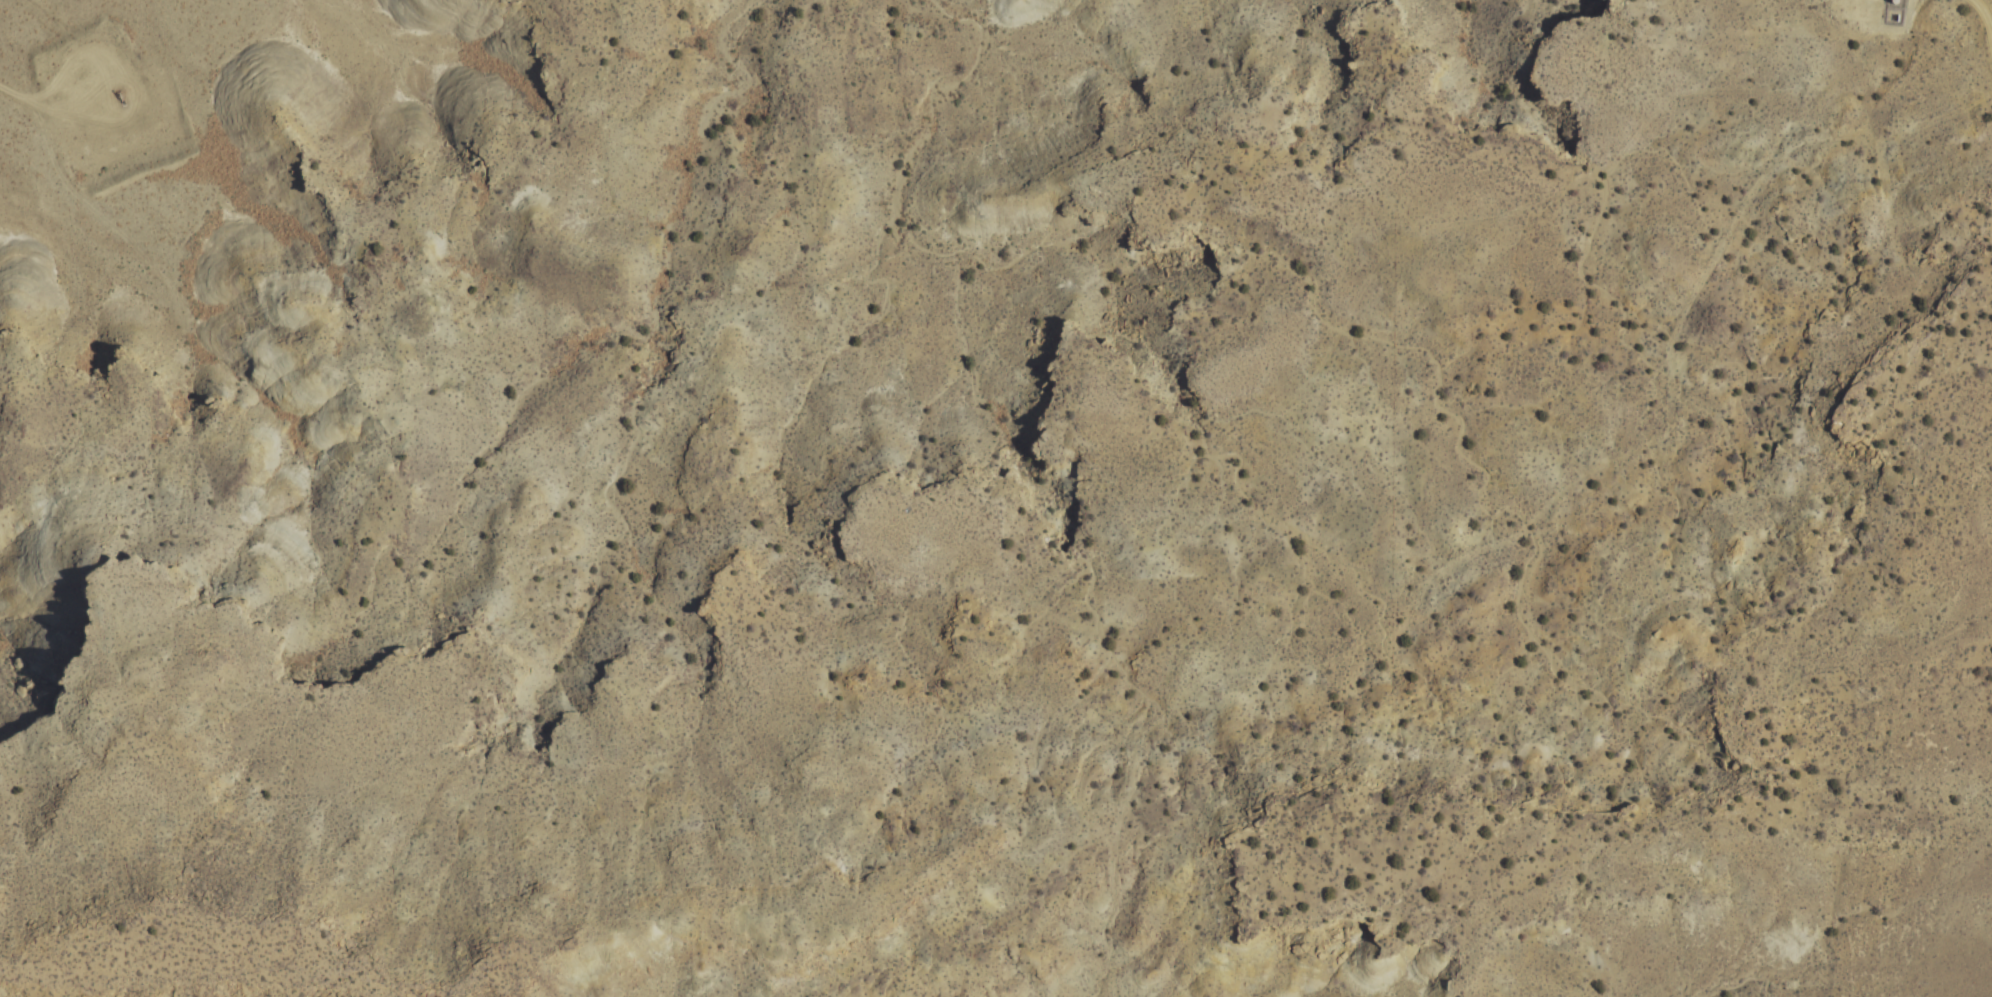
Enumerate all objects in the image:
road: (1987, 12)
road: (135, 75)
road: (11, 86)

